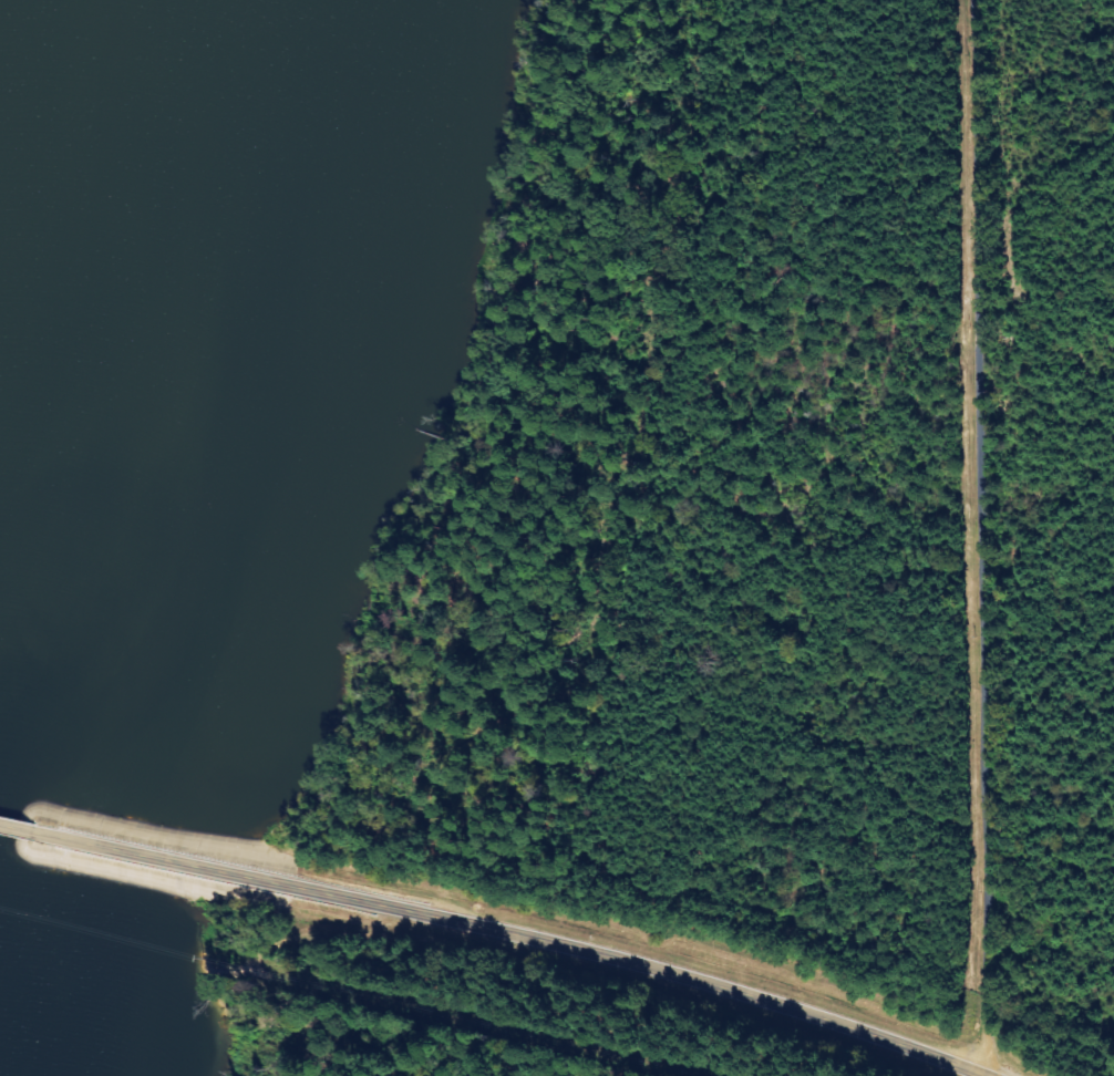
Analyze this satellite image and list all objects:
road: (977, 538)
road: (21, 828)
road: (175, 860)
road: (654, 968)
park: (483, 1008)

